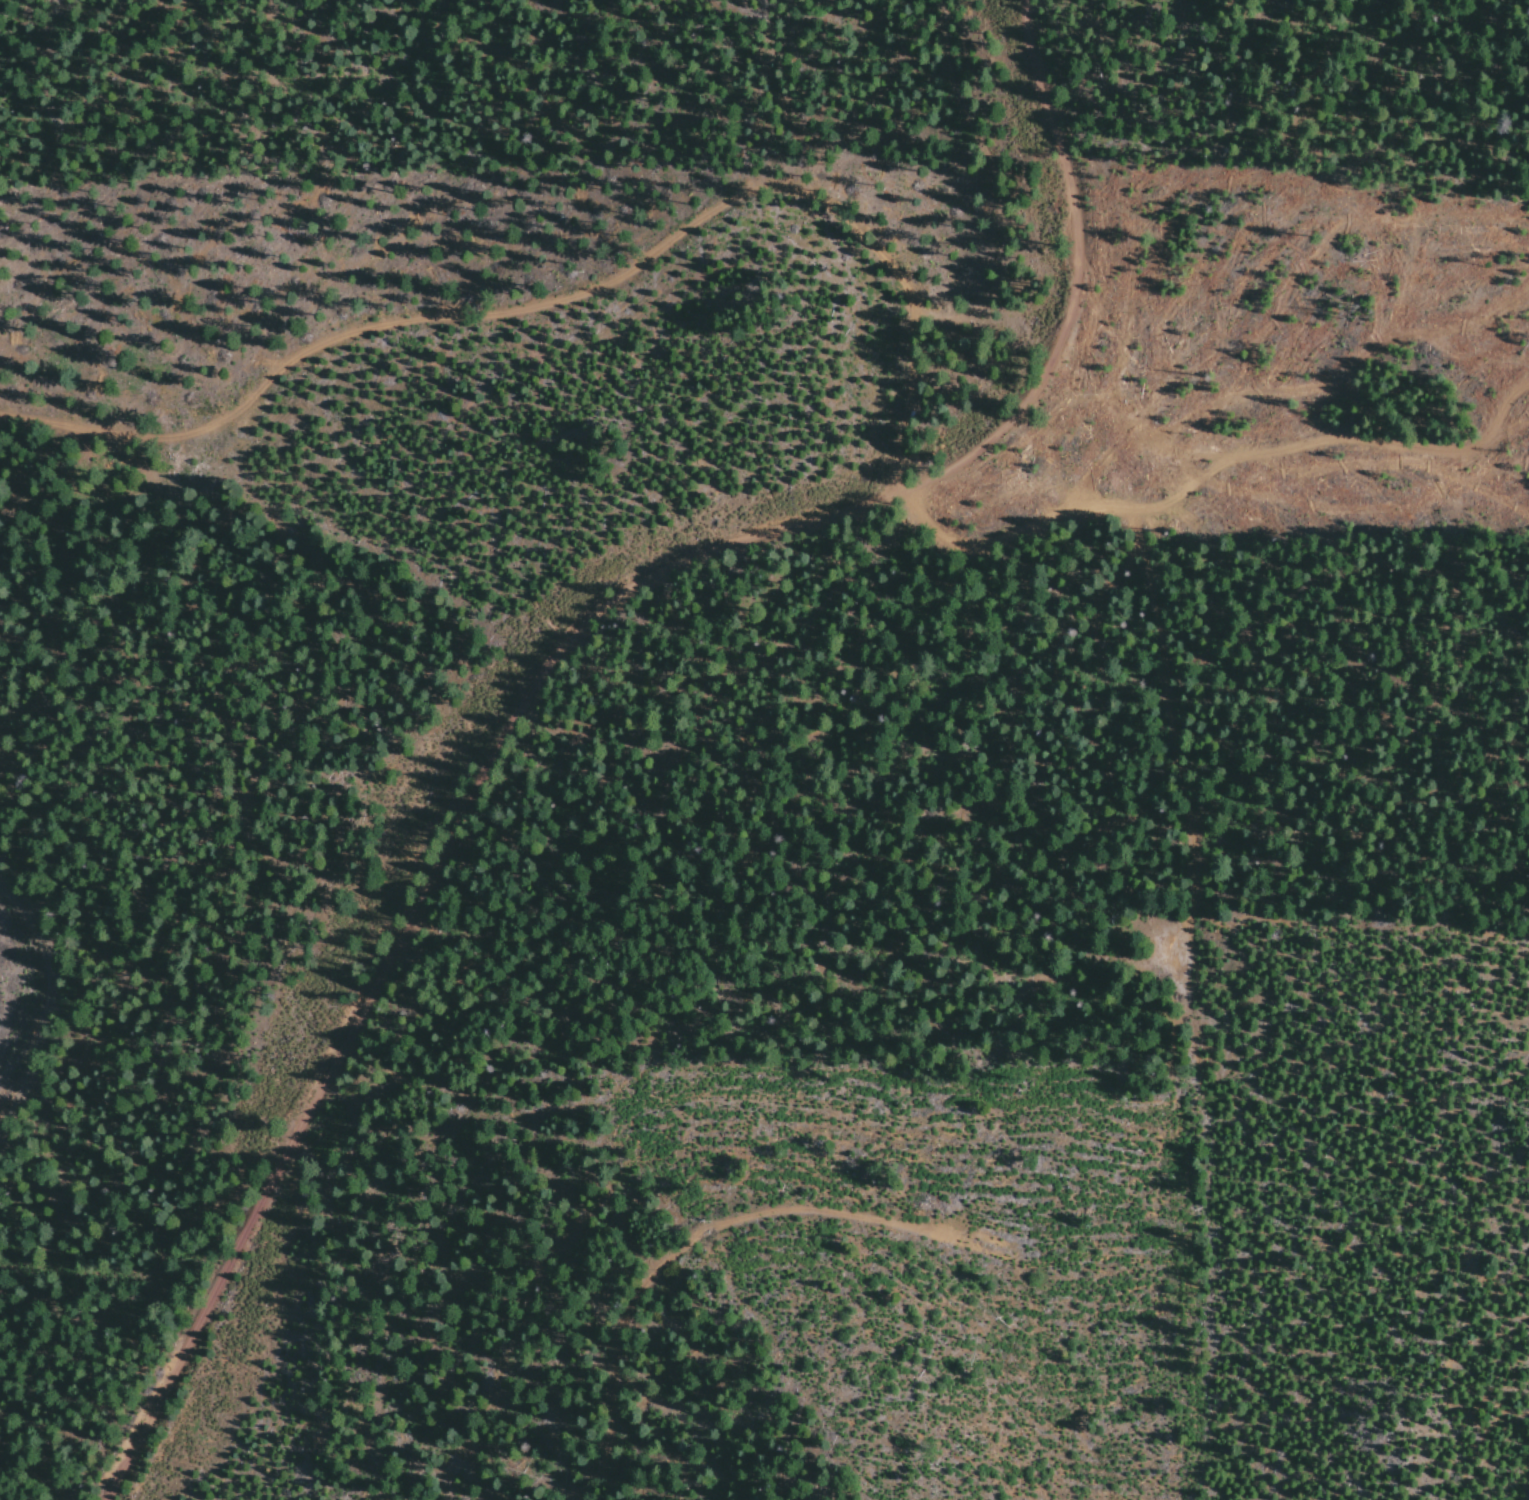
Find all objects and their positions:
road: (673, 242)
road: (33, 1010)

